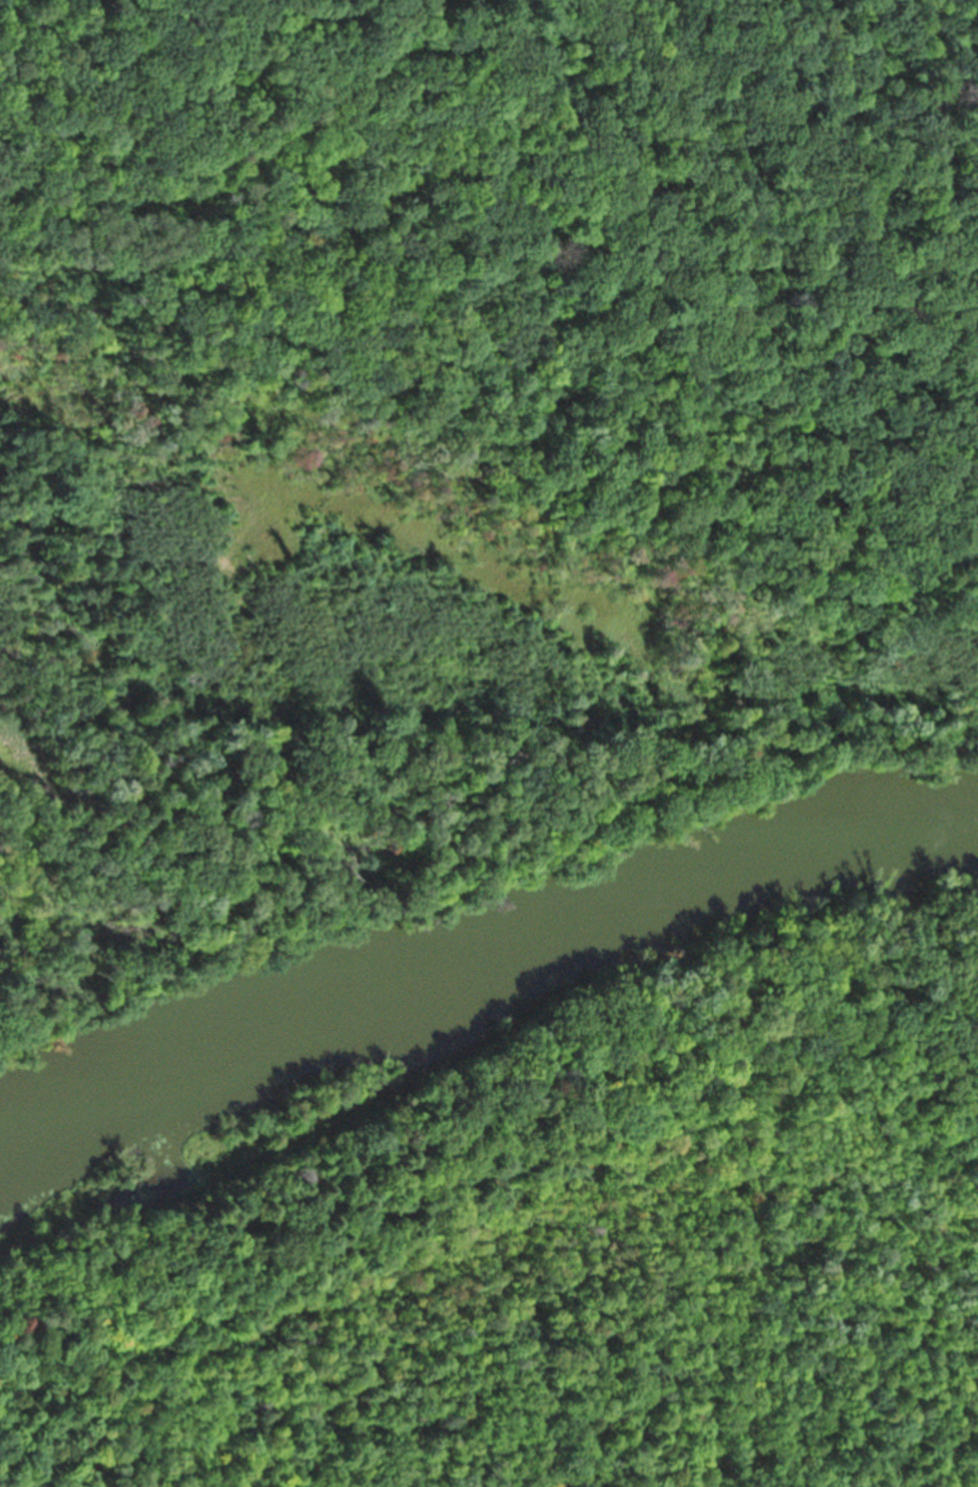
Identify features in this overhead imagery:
river: (478, 944)

